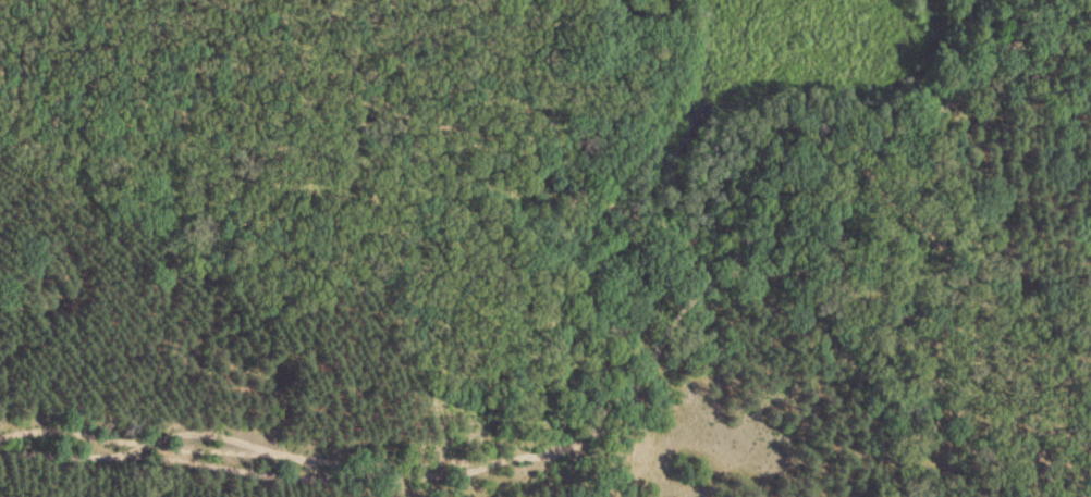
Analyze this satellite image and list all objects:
road: (601, 396)

